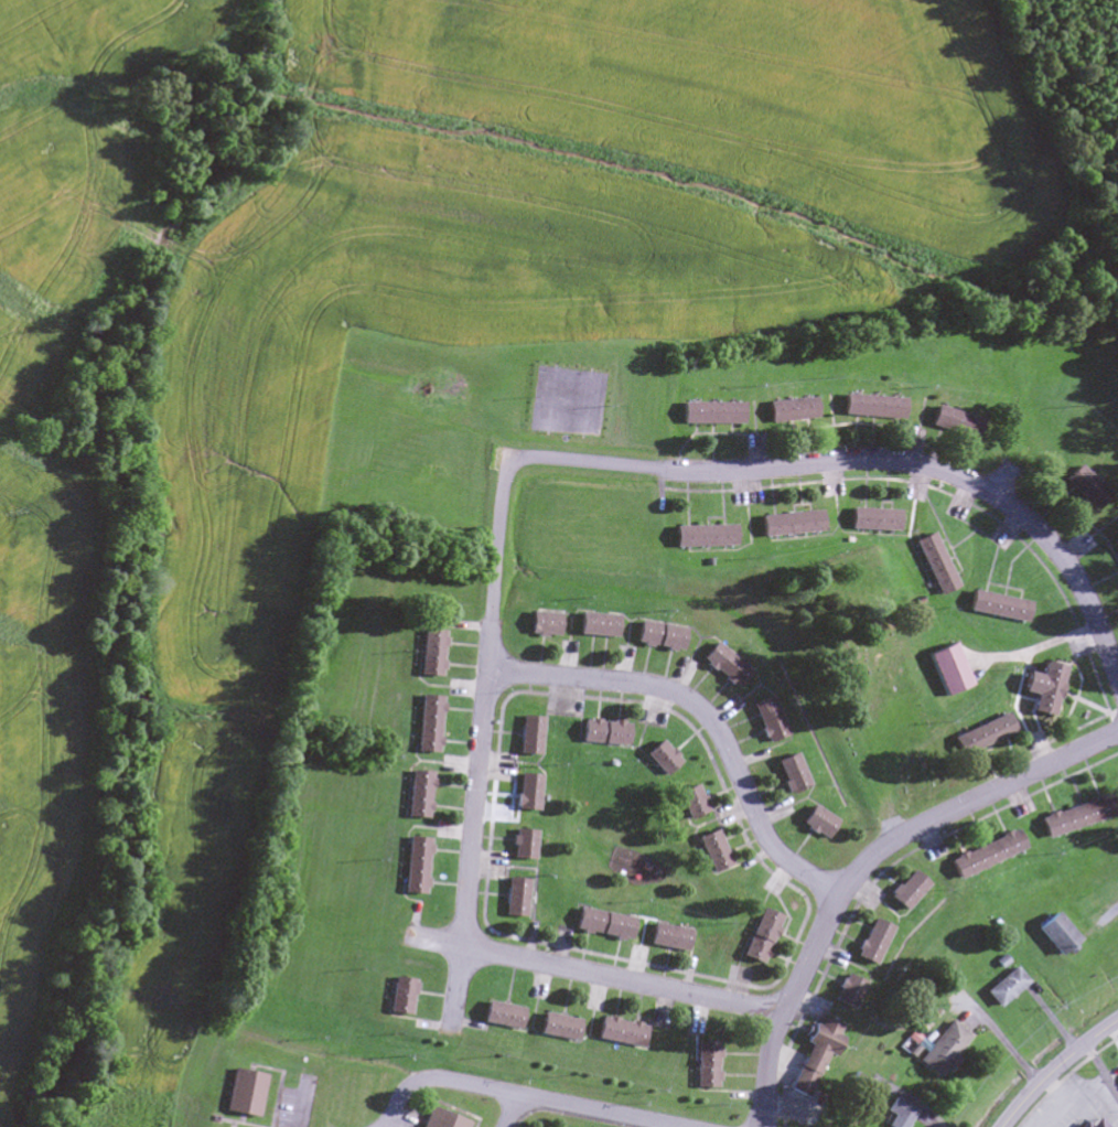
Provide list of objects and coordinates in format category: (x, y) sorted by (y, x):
building: (870, 407)
building: (789, 410)
building: (708, 414)
building: (952, 423)
road: (849, 461)
building: (1084, 489)
building: (870, 520)
building: (787, 524)
building: (700, 536)
building: (1116, 546)
building: (933, 565)
building: (997, 607)
building: (542, 624)
building: (595, 625)
building: (657, 636)
building: (430, 655)
building: (722, 666)
building: (946, 670)
park: (866, 686)
building: (1042, 690)
road: (706, 718)
building: (766, 720)
building: (427, 726)
building: (603, 733)
building: (980, 736)
building: (529, 737)
building: (660, 759)
road: (480, 768)
building: (788, 774)
building: (527, 793)
building: (417, 795)
building: (690, 803)
building: (1074, 817)
building: (816, 823)
building: (523, 845)
building: (710, 852)
building: (982, 855)
road: (863, 865)
building: (415, 867)
building: (905, 891)
building: (515, 898)
building: (602, 925)
building: (1055, 936)
building: (759, 937)
building: (667, 938)
road: (434, 941)
building: (870, 943)
road: (622, 981)
building: (1003, 989)
building: (847, 992)
building: (400, 998)
building: (501, 1017)
building: (556, 1028)
building: (617, 1032)
building: (942, 1050)
building: (814, 1053)
building: (705, 1065)
road: (1053, 1066)
road: (1100, 1069)
building: (245, 1094)
road: (525, 1095)
road: (1060, 1103)
road: (307, 1105)
road: (510, 1110)
building: (897, 1114)
building: (440, 1120)
building: (1095, 1124)
building: (1079, 1125)
building: (1084, 1125)

